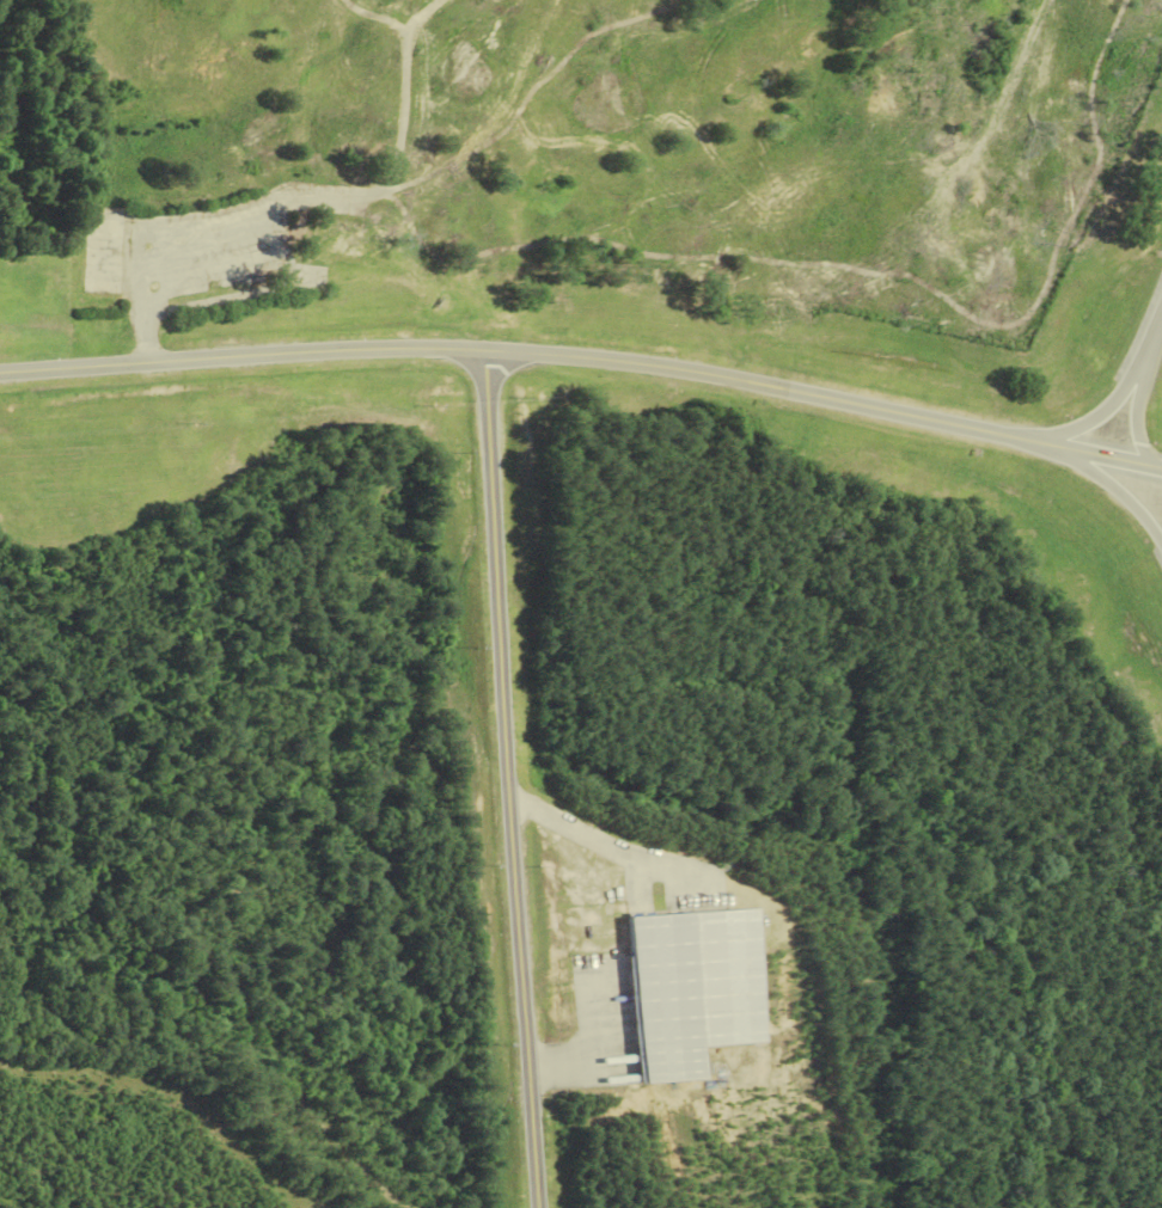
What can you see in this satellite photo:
building: (340, 239)
building: (106, 250)
road: (143, 299)
road: (1155, 336)
road: (585, 357)
road: (1139, 411)
road: (1105, 412)
road: (1108, 482)
road: (512, 779)
road: (608, 847)
building: (695, 989)

